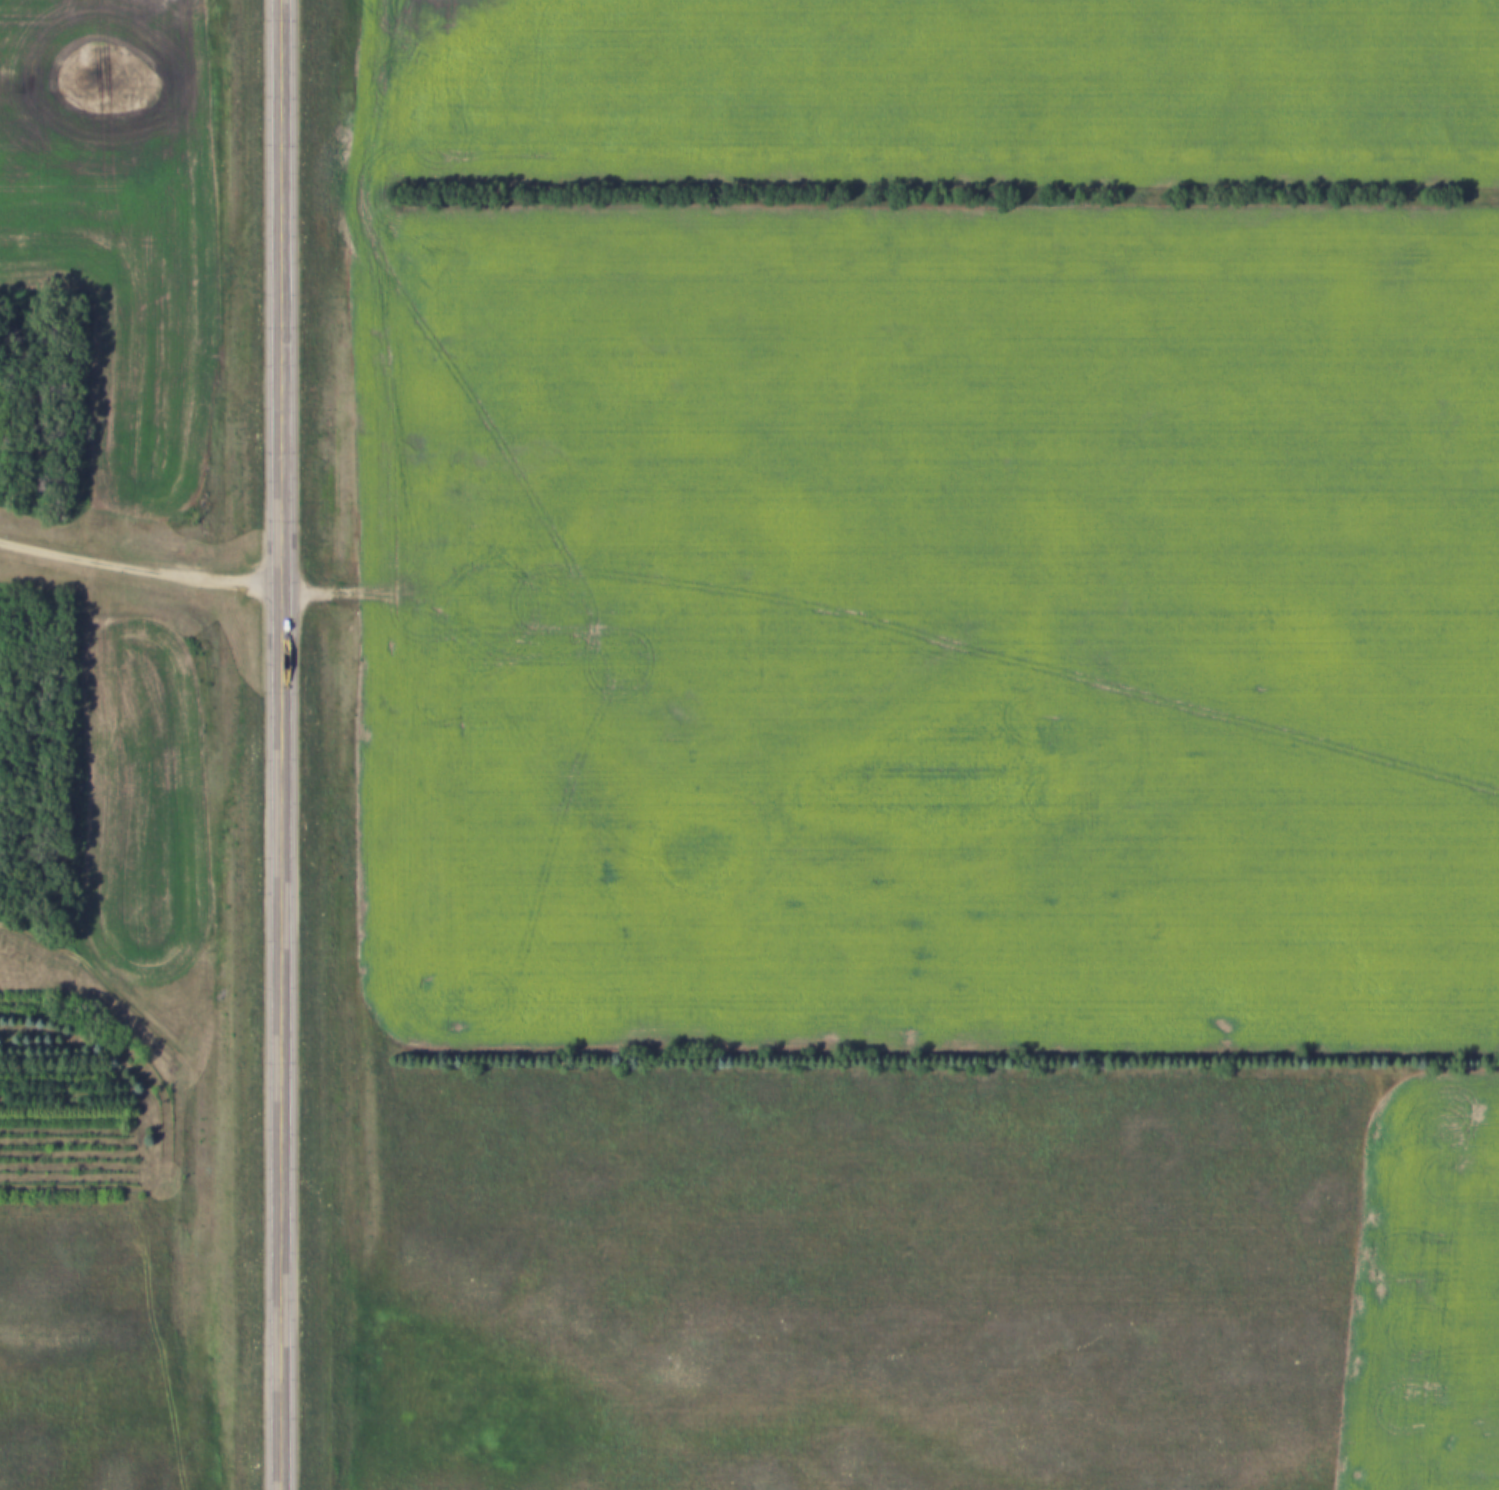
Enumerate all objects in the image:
road: (139, 565)
road: (279, 745)

